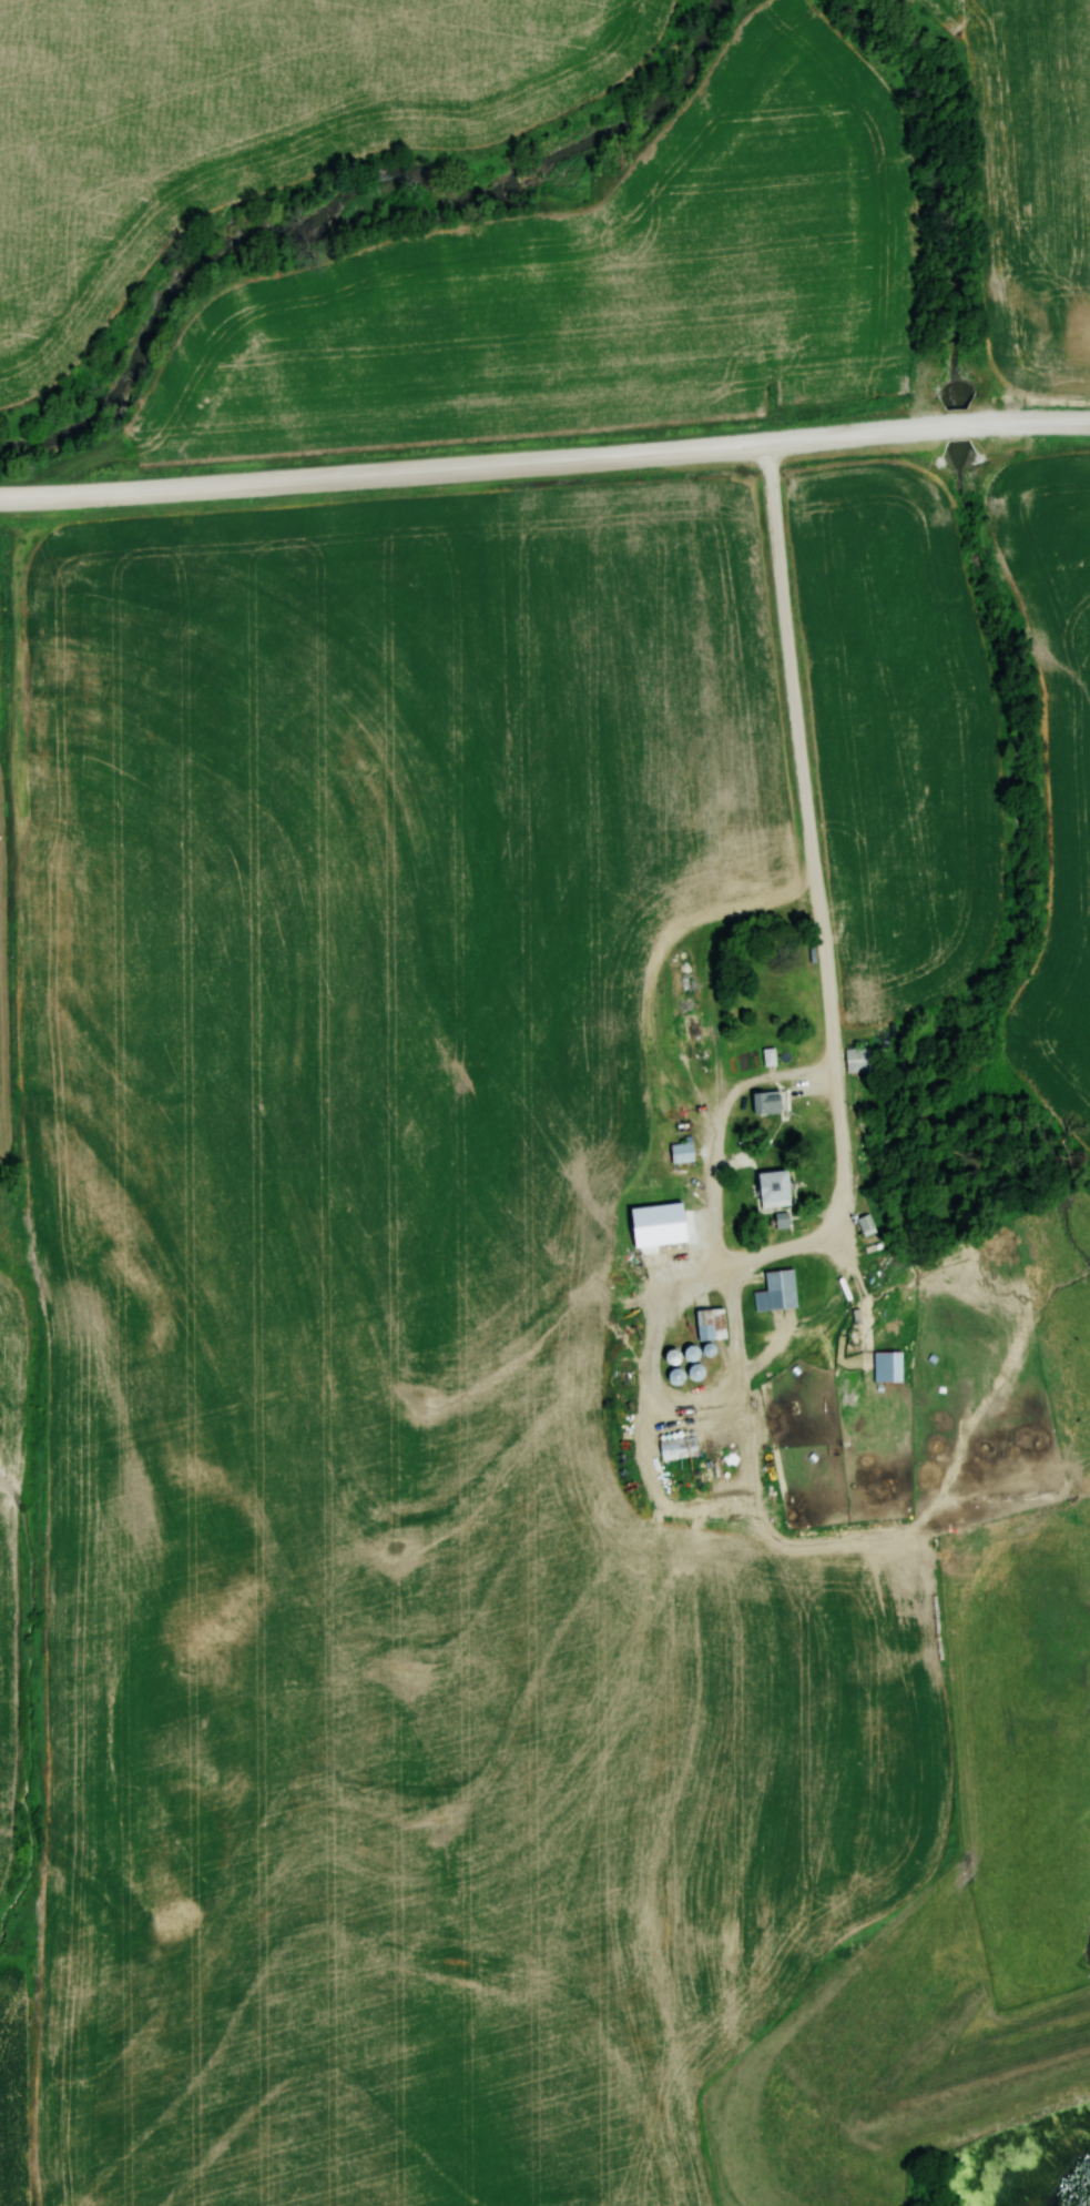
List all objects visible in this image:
river: (349, 190)
road: (1028, 417)
road: (470, 465)
road: (799, 823)
building: (767, 1054)
building: (857, 1058)
building: (764, 1100)
building: (681, 1151)
building: (772, 1186)
building: (866, 1223)
building: (774, 1289)
building: (707, 1323)
building: (894, 1346)
building: (669, 1355)
building: (692, 1364)
building: (676, 1447)
dam: (974, 2084)

